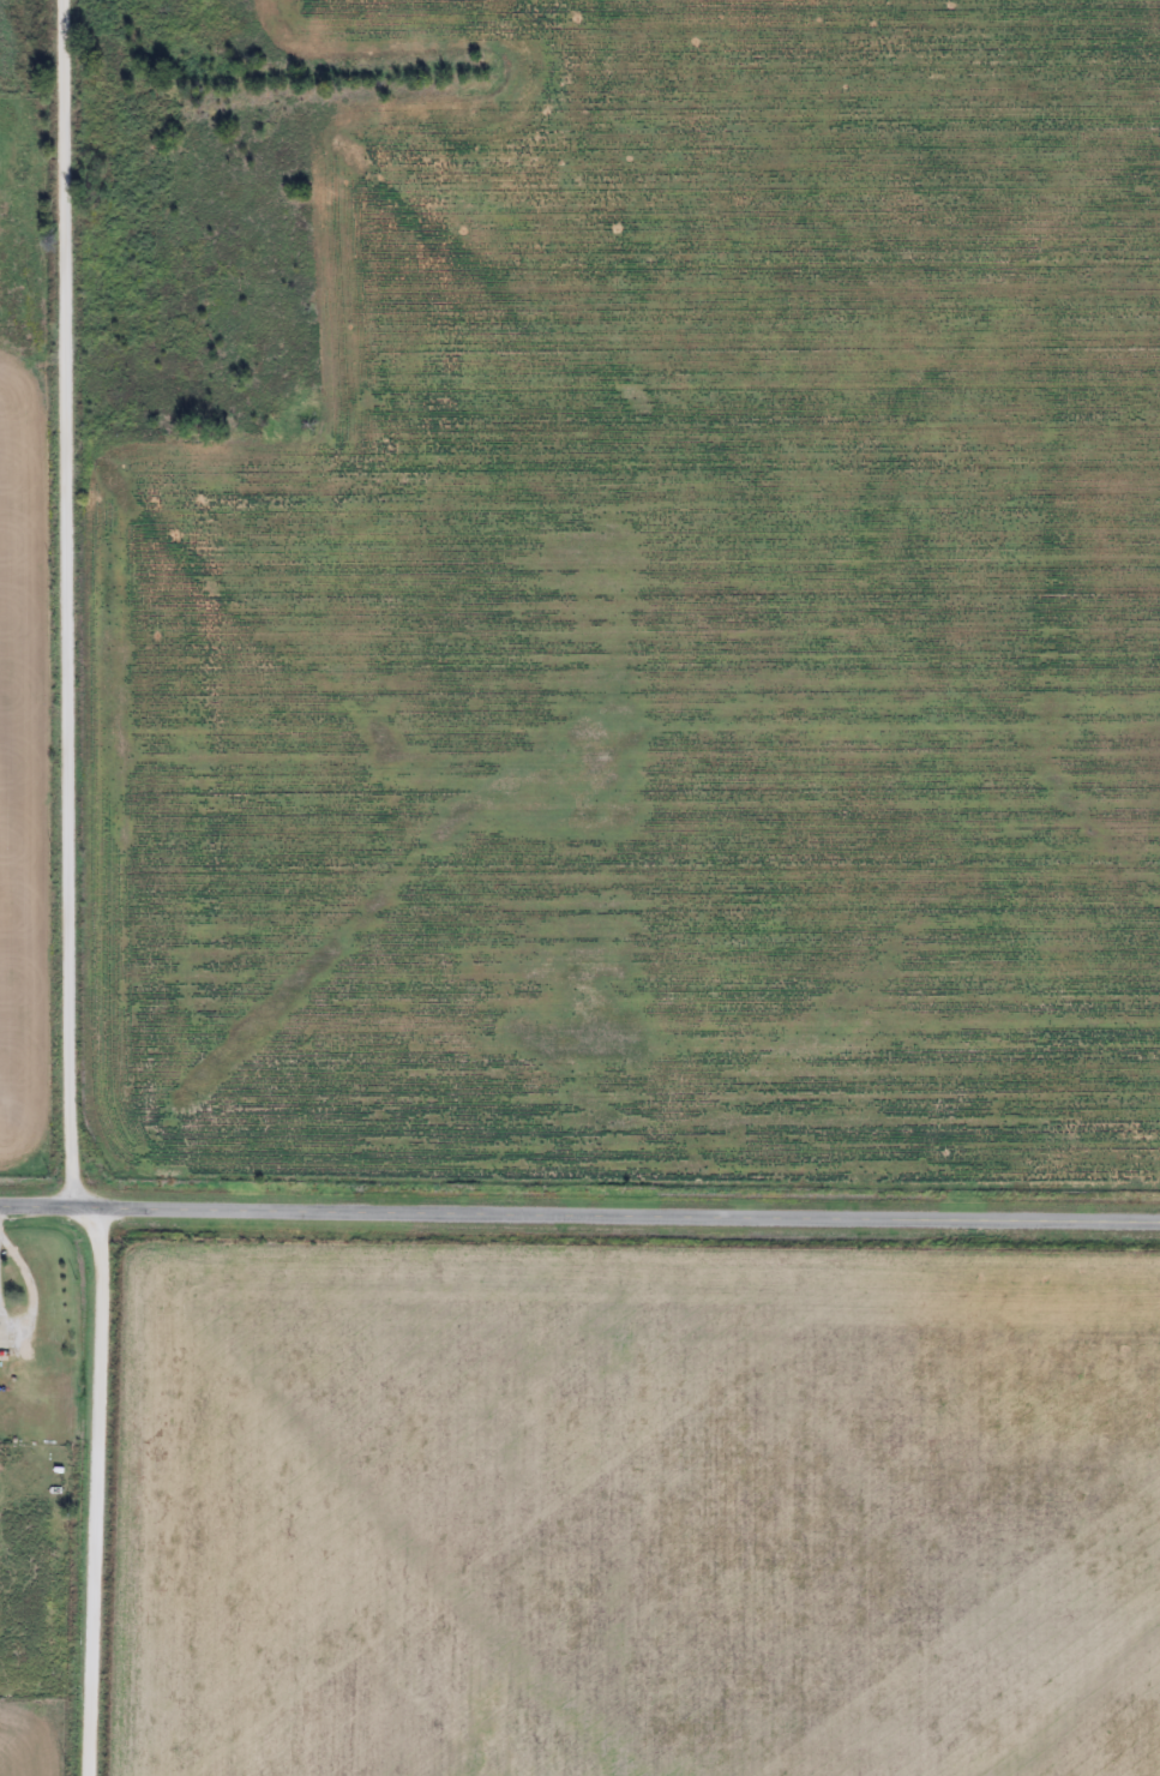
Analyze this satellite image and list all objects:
road: (76, 602)
road: (579, 1213)
road: (100, 1489)

